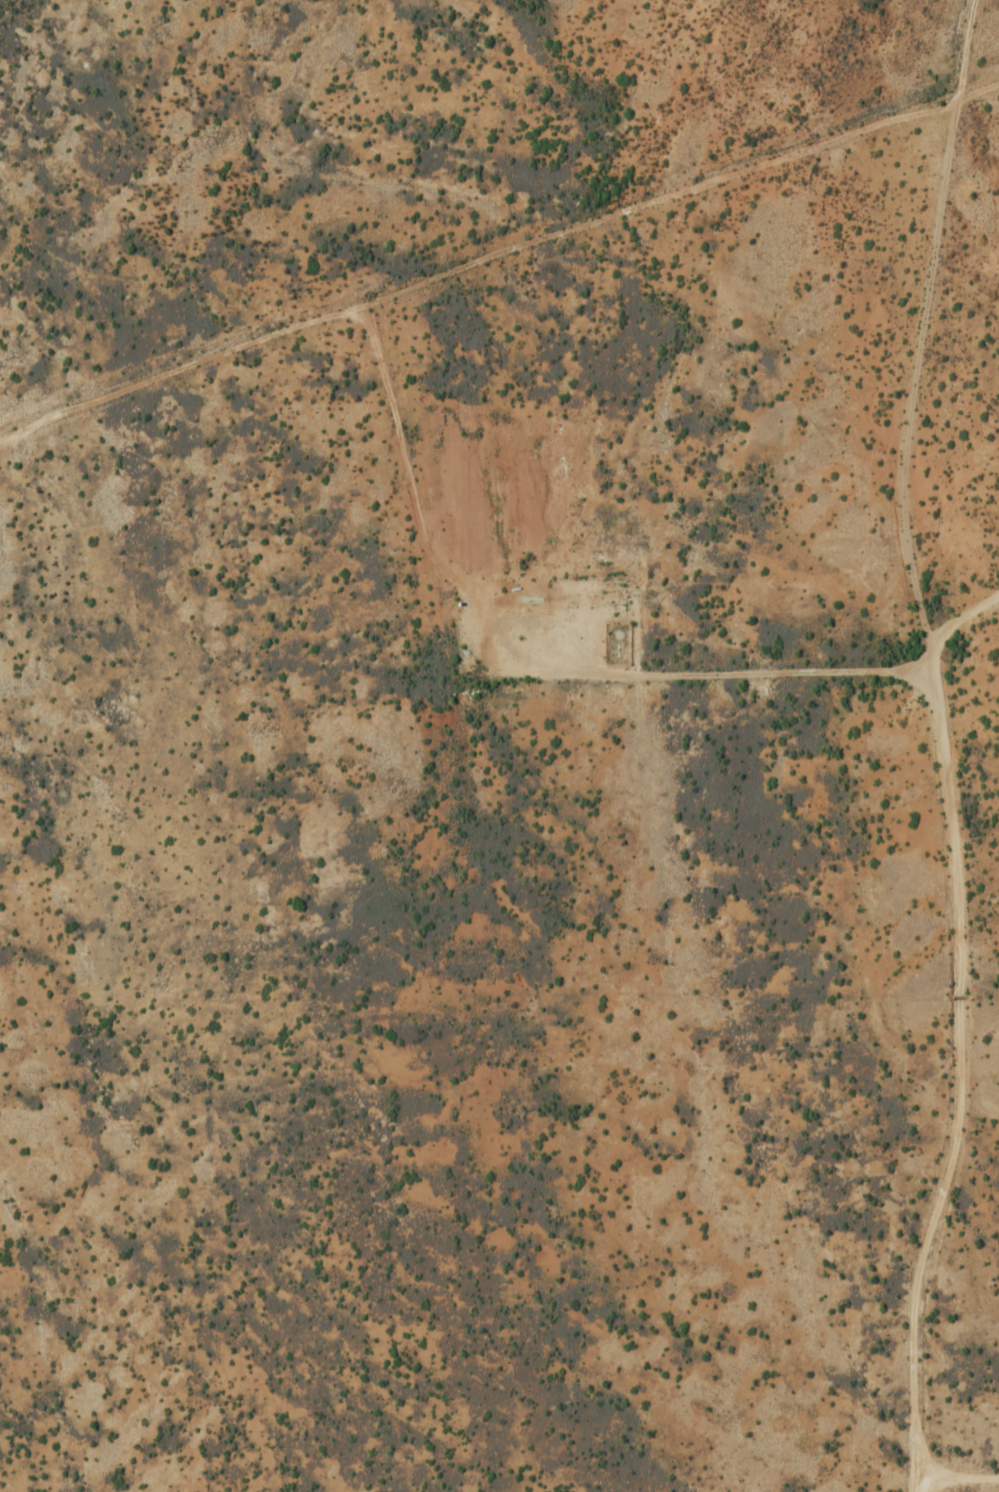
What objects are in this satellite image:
road: (729, 669)
road: (947, 745)
road: (956, 1485)

